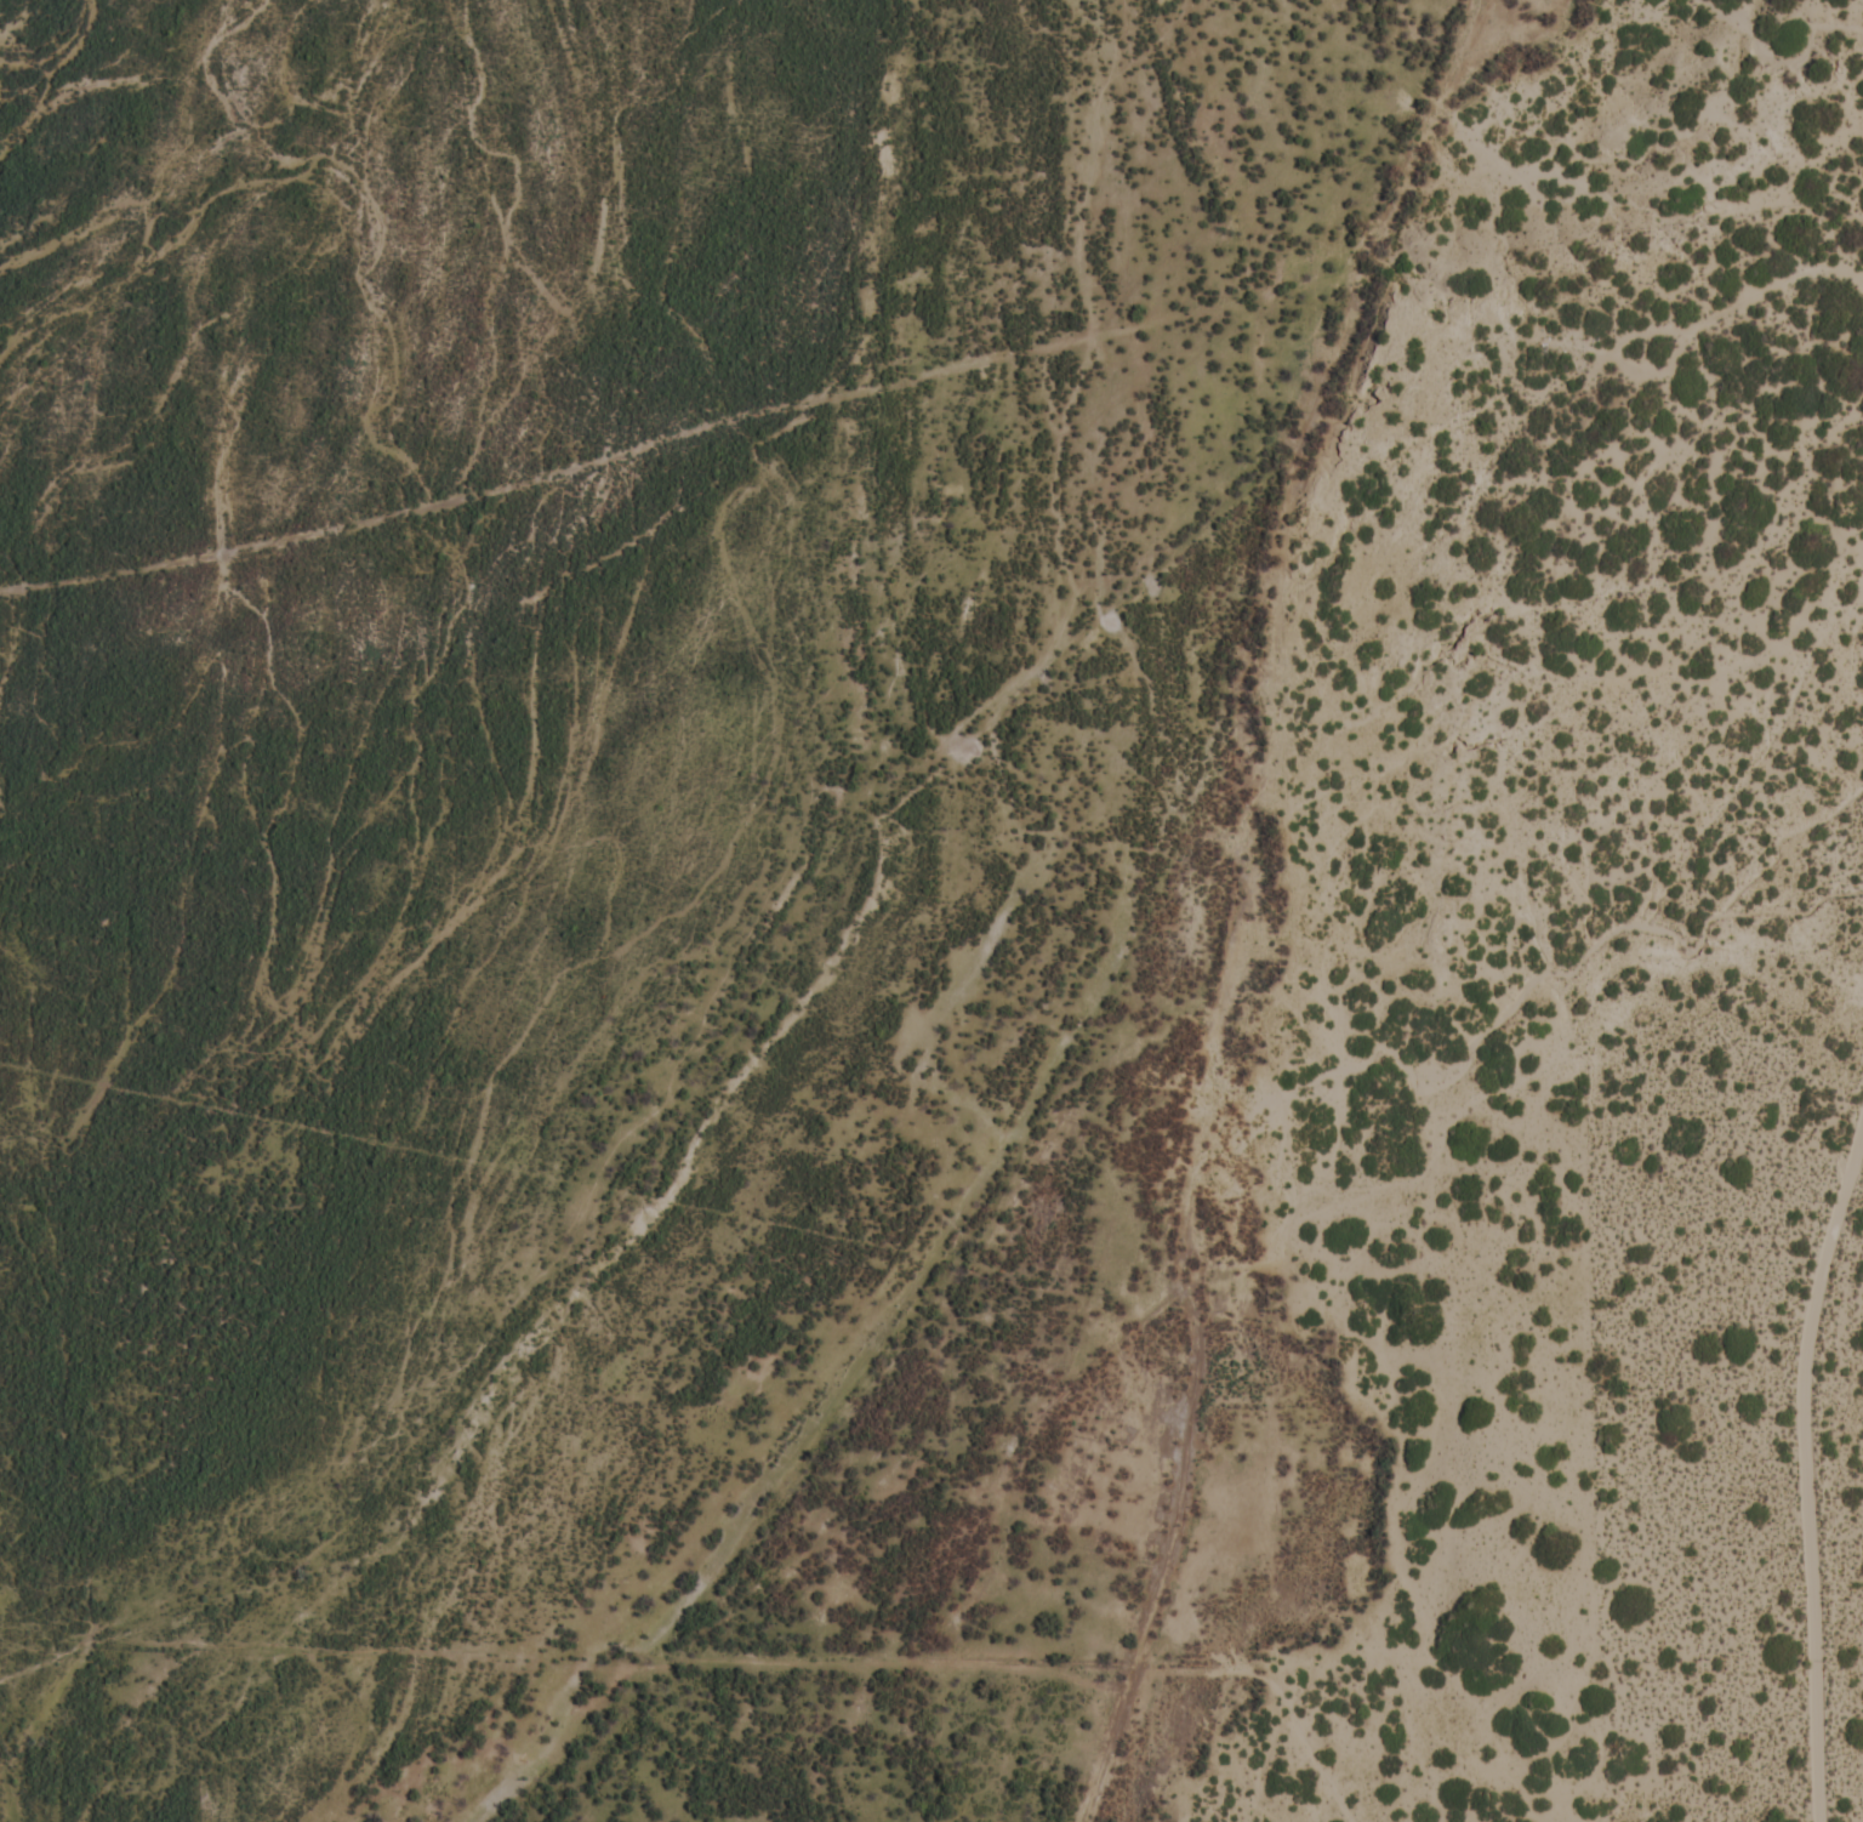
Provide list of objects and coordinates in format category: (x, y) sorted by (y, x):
road: (1781, 926)

